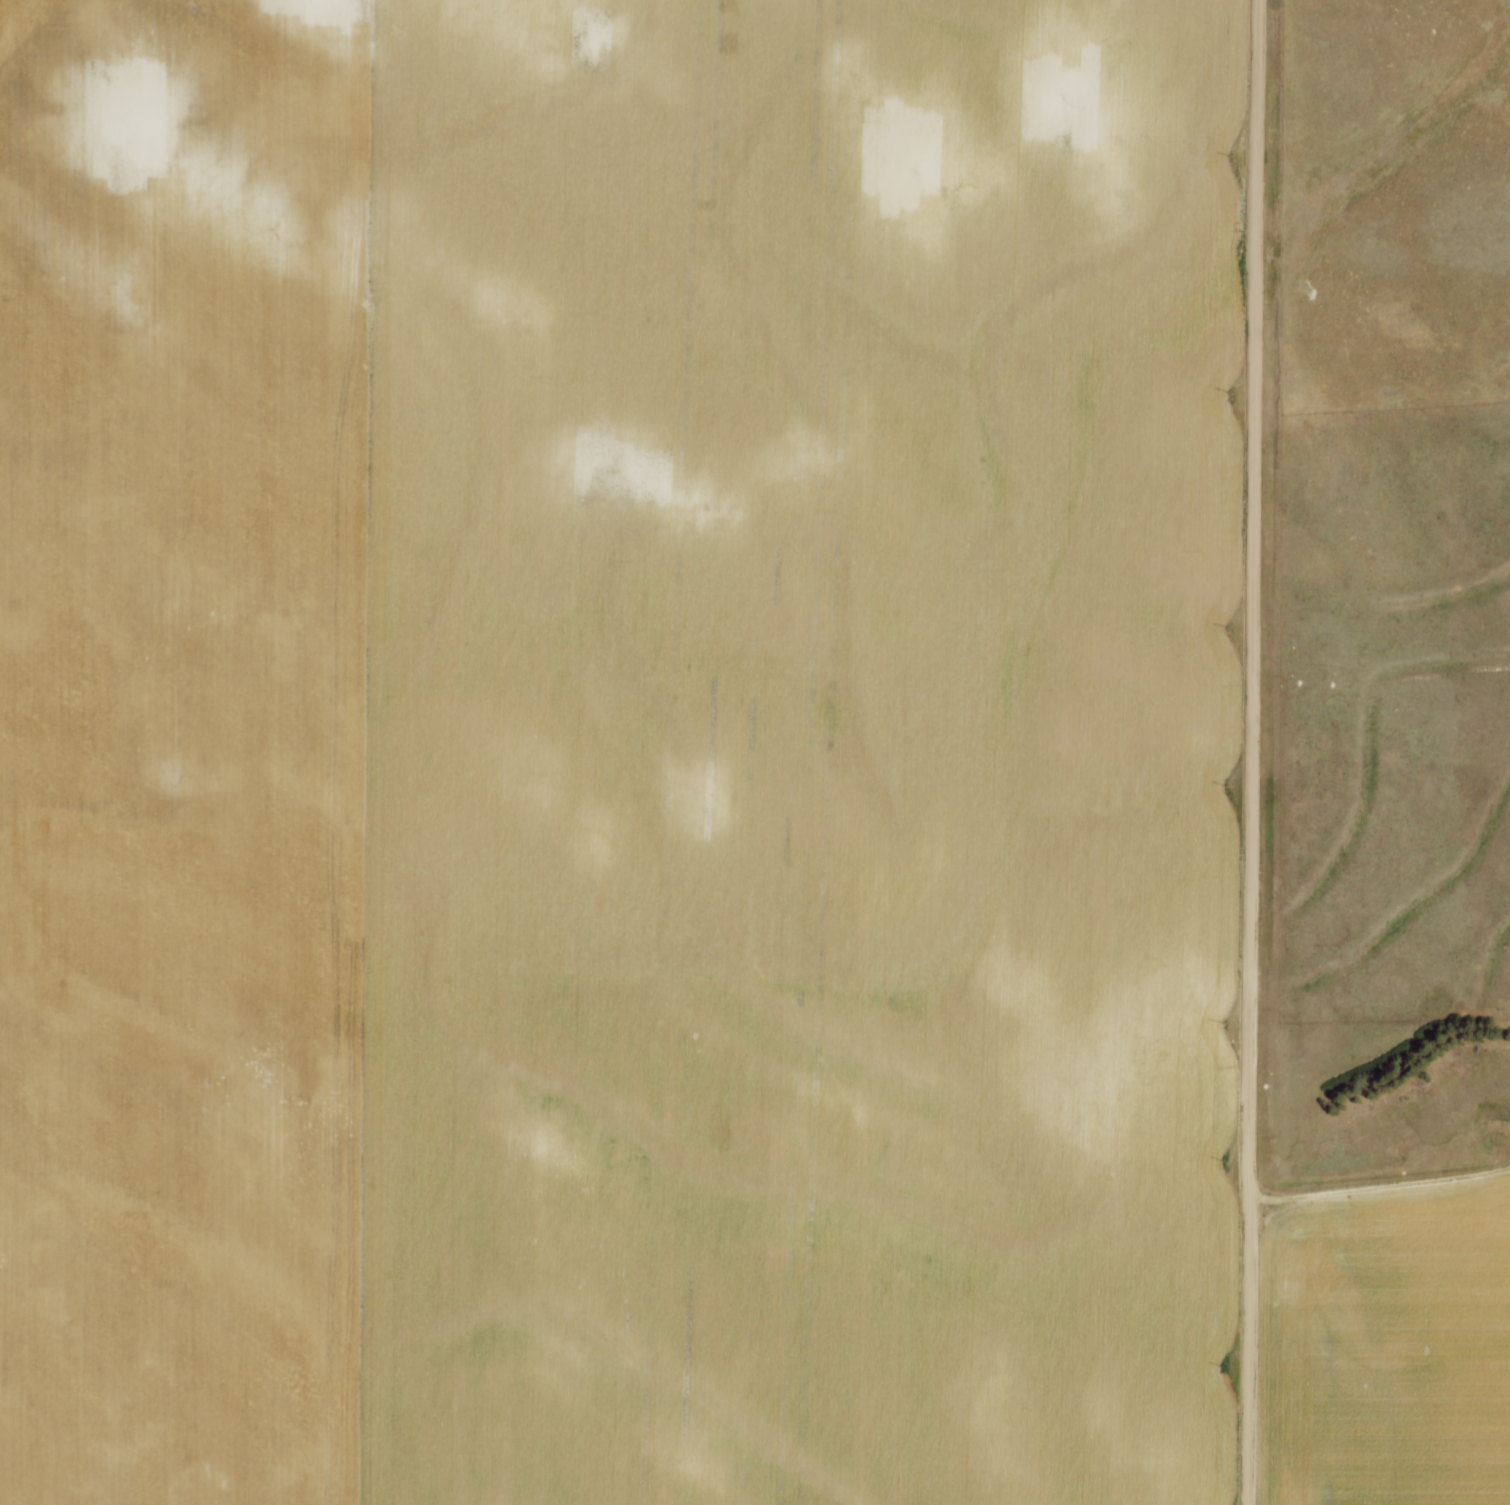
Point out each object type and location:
crop: (616, 750)
road: (1251, 752)
crop: (1390, 1350)

